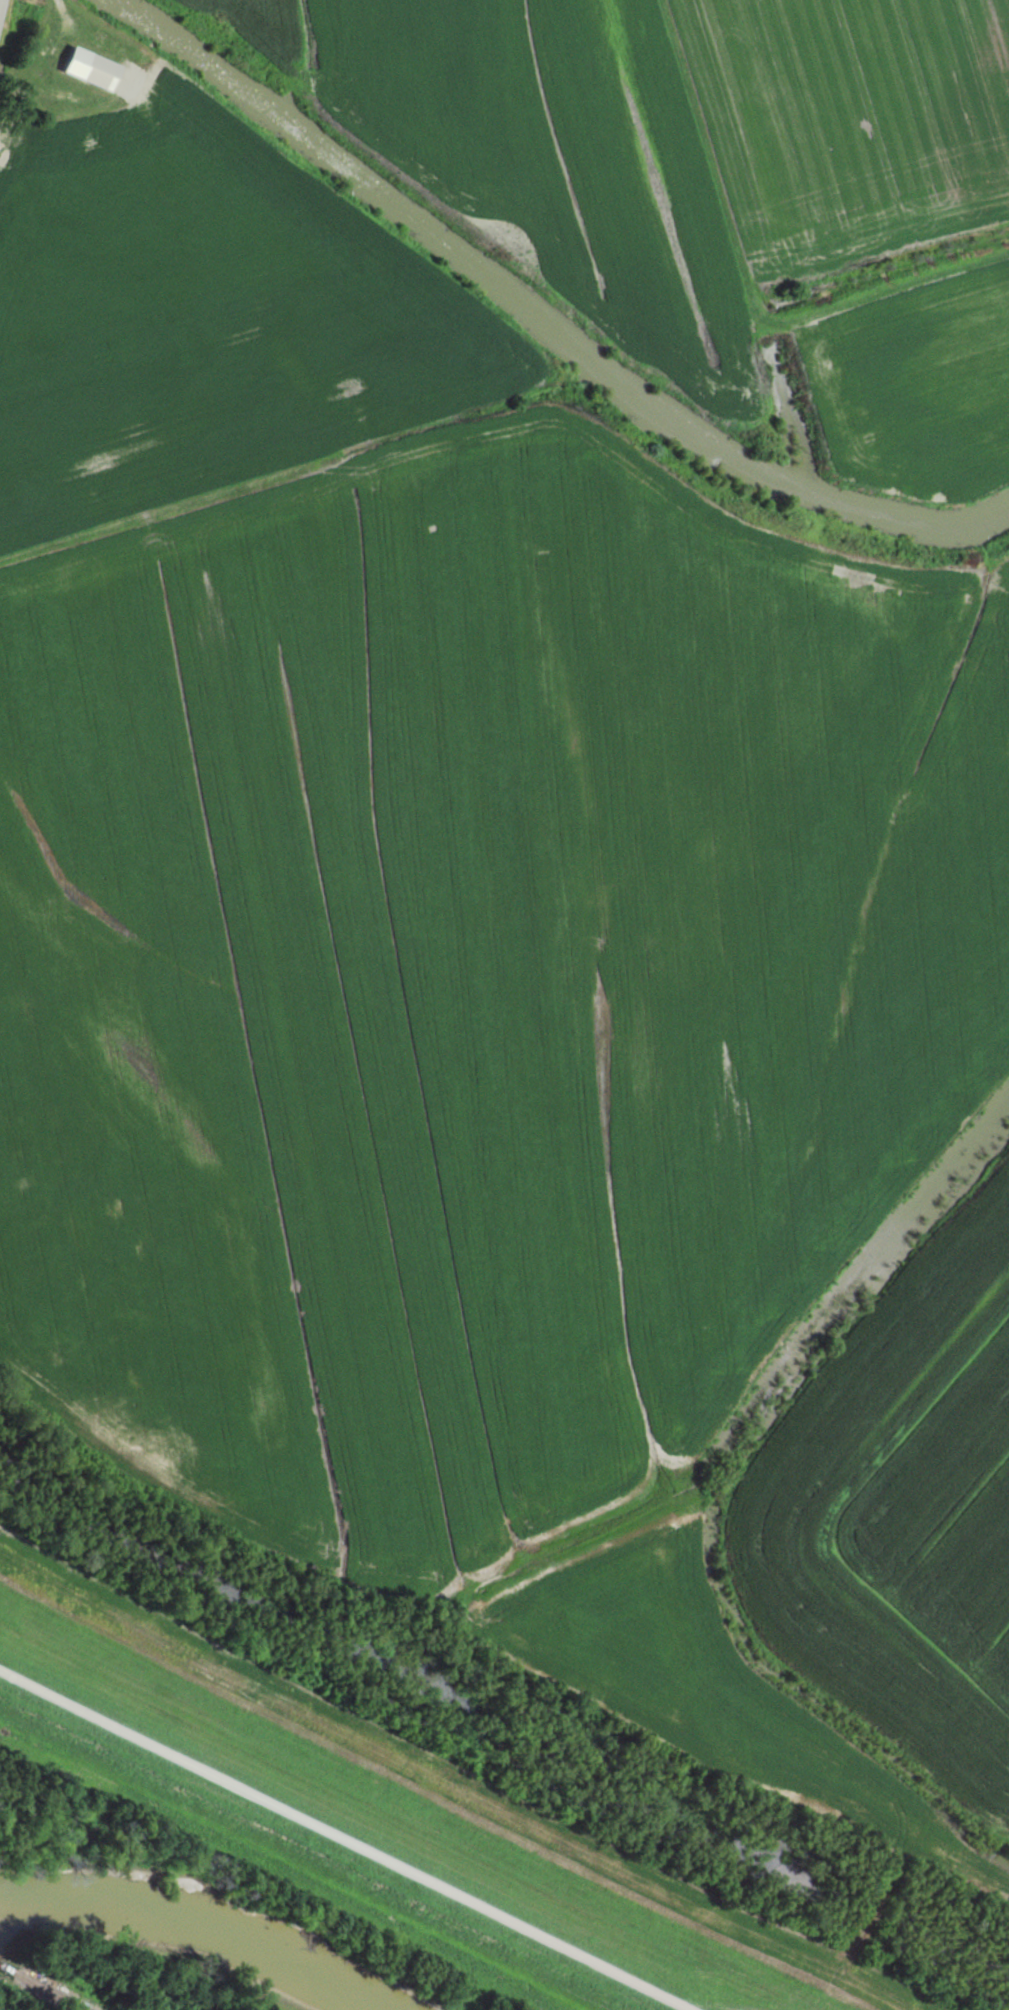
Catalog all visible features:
road: (0, 1)
building: (95, 67)
road: (741, 282)
road: (346, 1838)
river: (179, 1911)
railway: (6, 1967)
railway: (50, 1990)

